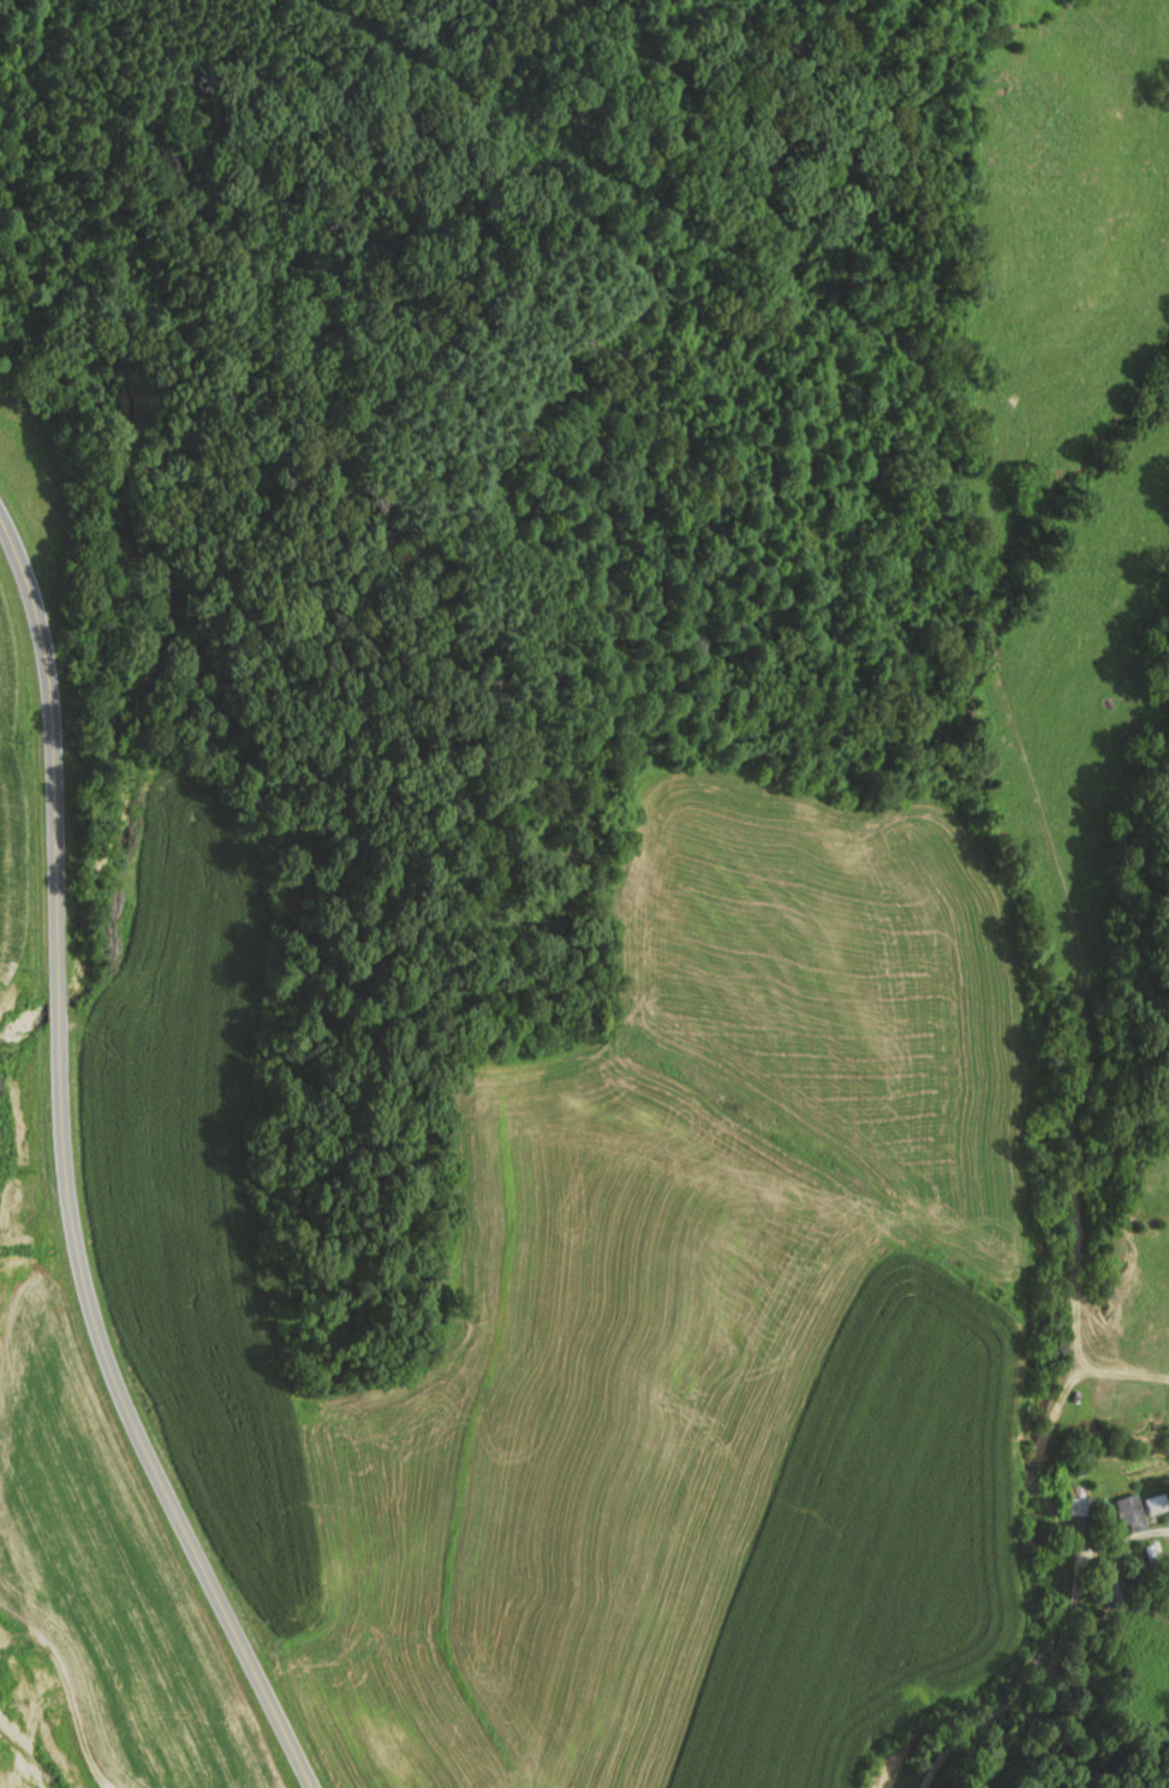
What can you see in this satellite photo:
park: (519, 343)
road: (71, 1172)
building: (1157, 1503)
building: (1080, 1507)
building: (1131, 1513)
road: (1042, 1644)

